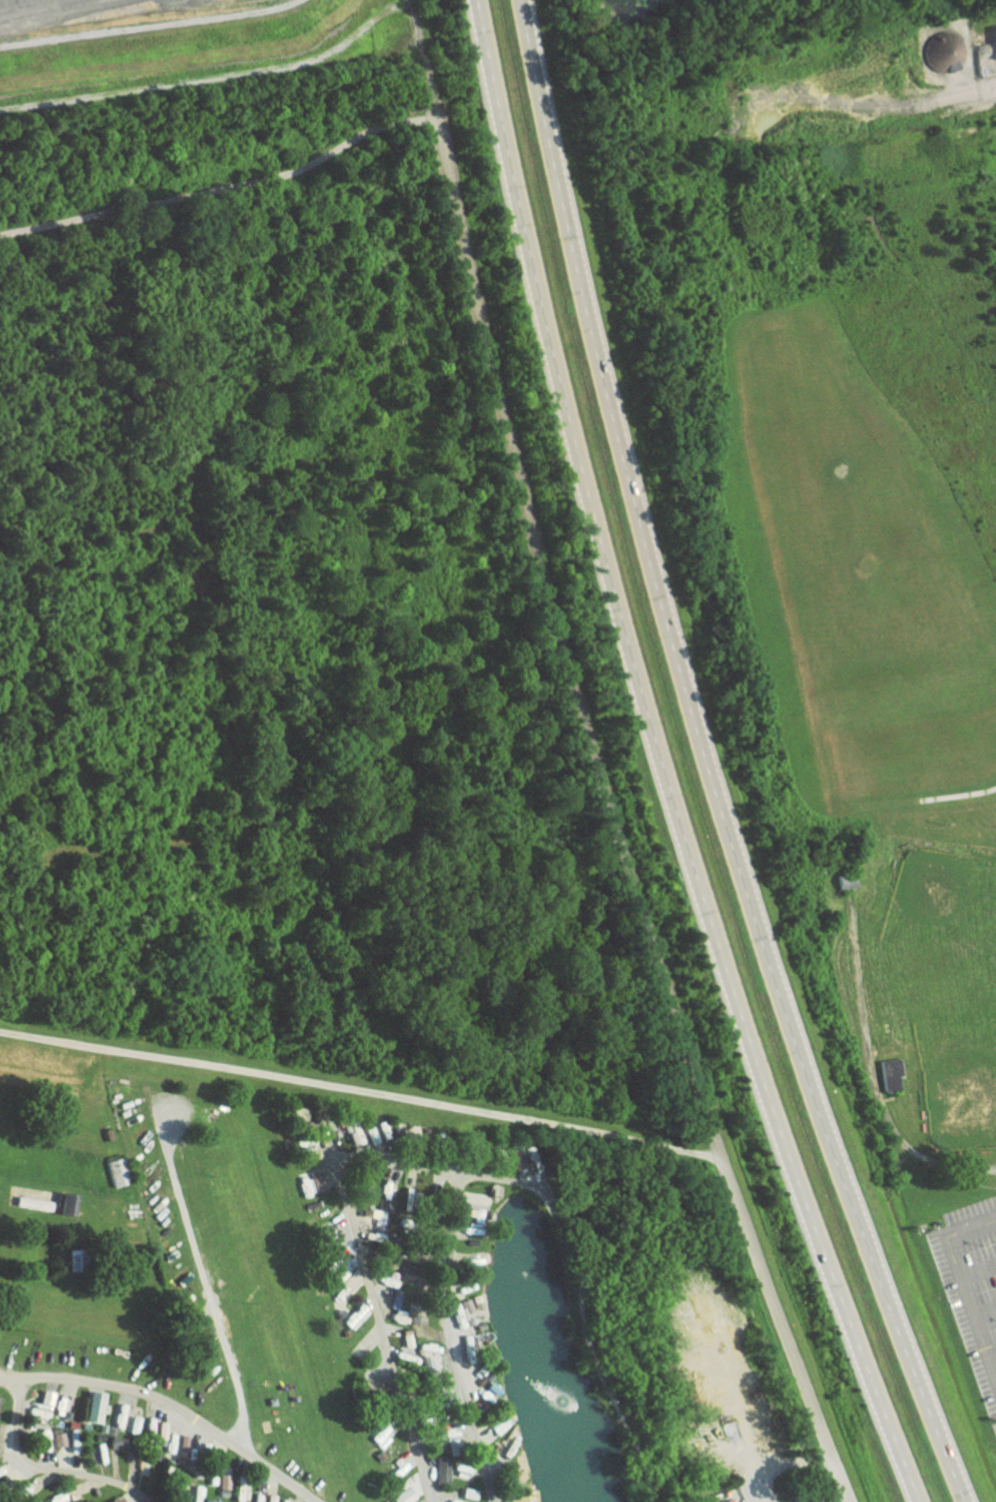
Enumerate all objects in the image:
road: (146, 25)
building: (994, 41)
building: (944, 55)
road: (213, 77)
road: (224, 190)
road: (594, 761)
road: (706, 761)
road: (660, 762)
park: (939, 929)
park: (954, 1056)
road: (874, 1078)
road: (361, 1091)
road: (434, 1169)
building: (314, 1181)
road: (189, 1233)
road: (977, 1269)
road: (961, 1284)
building: (458, 1310)
road: (984, 1311)
road: (379, 1321)
road: (447, 1340)
road: (589, 1345)
road: (991, 1354)
road: (13, 1377)
road: (161, 1400)
building: (89, 1408)
building: (132, 1425)
building: (161, 1431)
building: (57, 1440)
building: (117, 1444)
building: (439, 1472)
road: (68, 1473)
building: (222, 1482)
building: (401, 1497)
building: (268, 1499)
building: (114, 1501)

